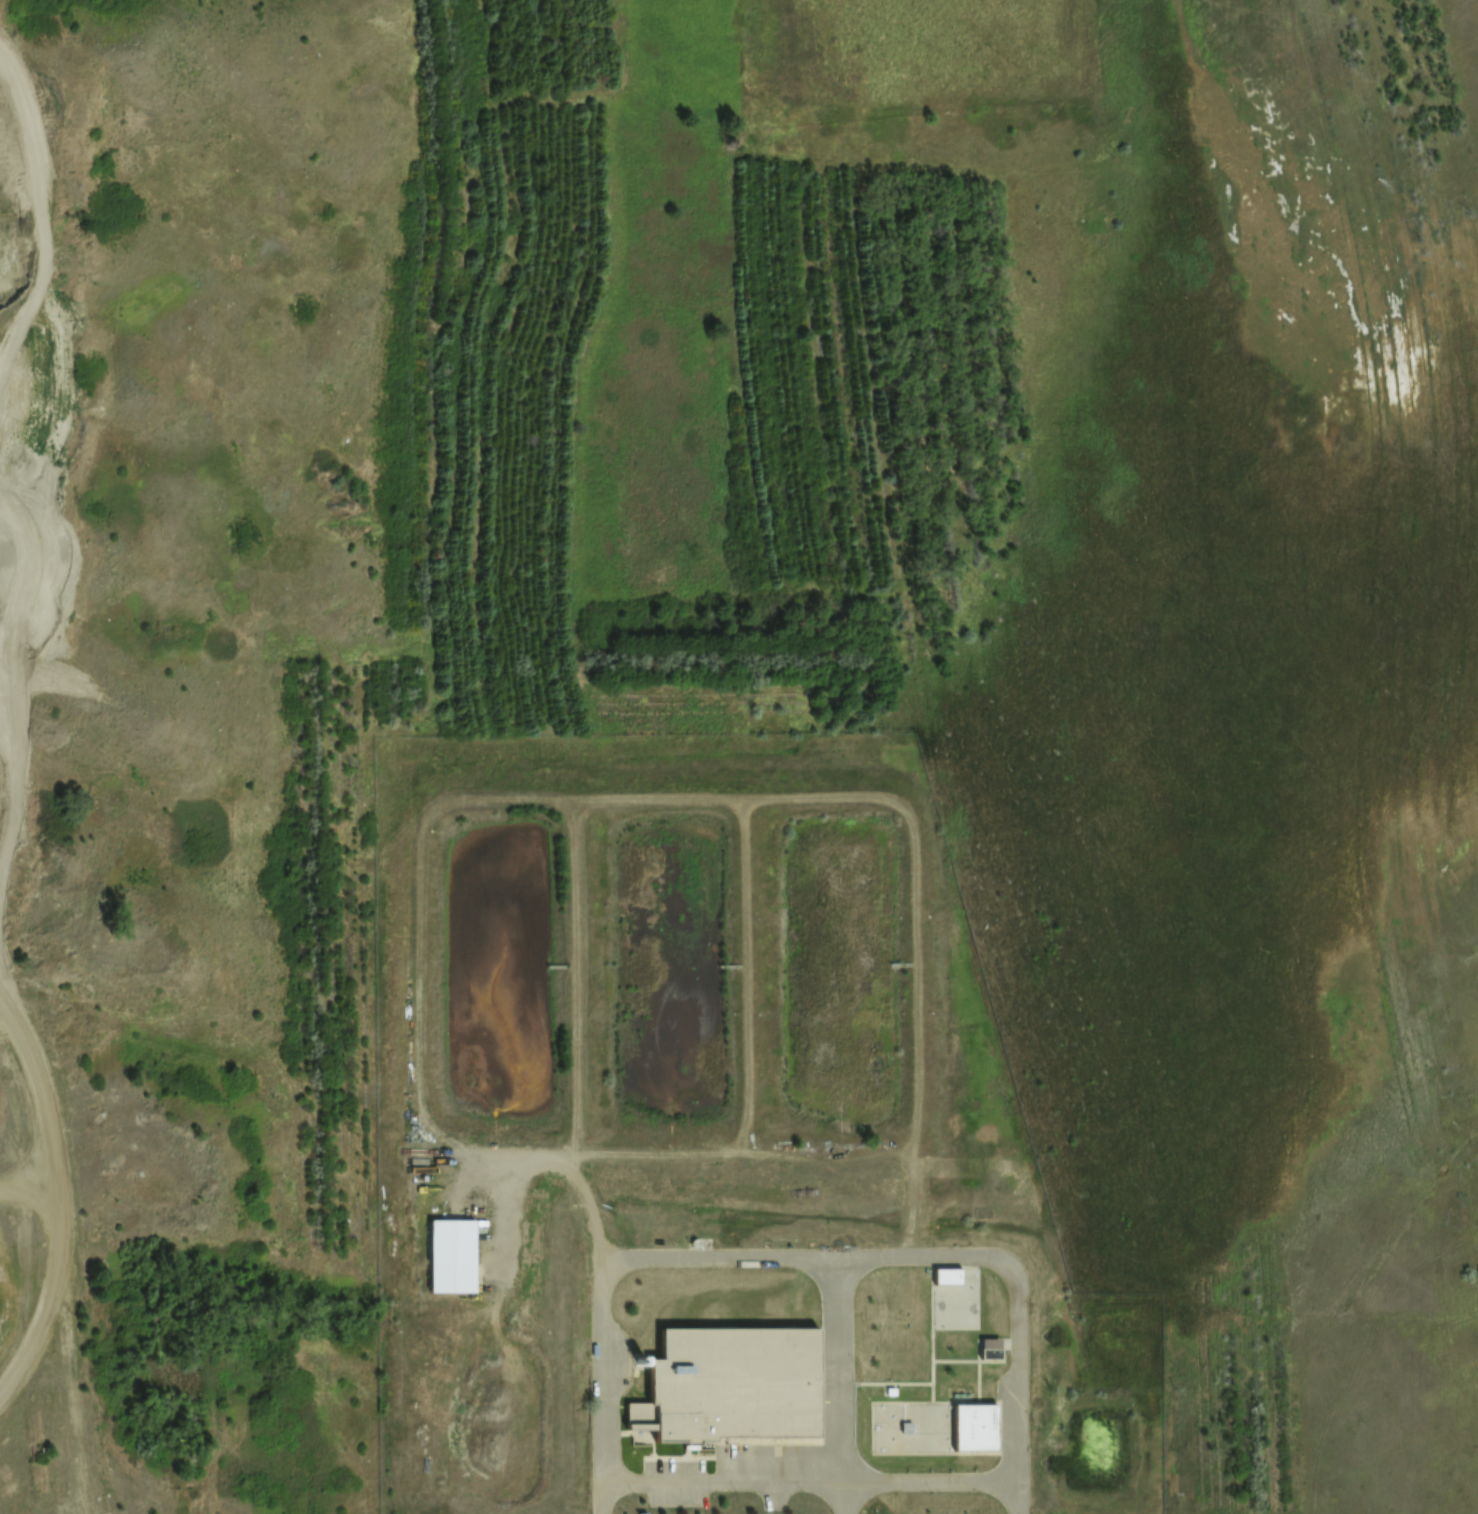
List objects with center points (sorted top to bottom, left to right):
road: (26, 1182)
building: (446, 1246)
road: (57, 1250)
building: (948, 1275)
building: (991, 1350)
building: (739, 1384)
building: (970, 1416)

